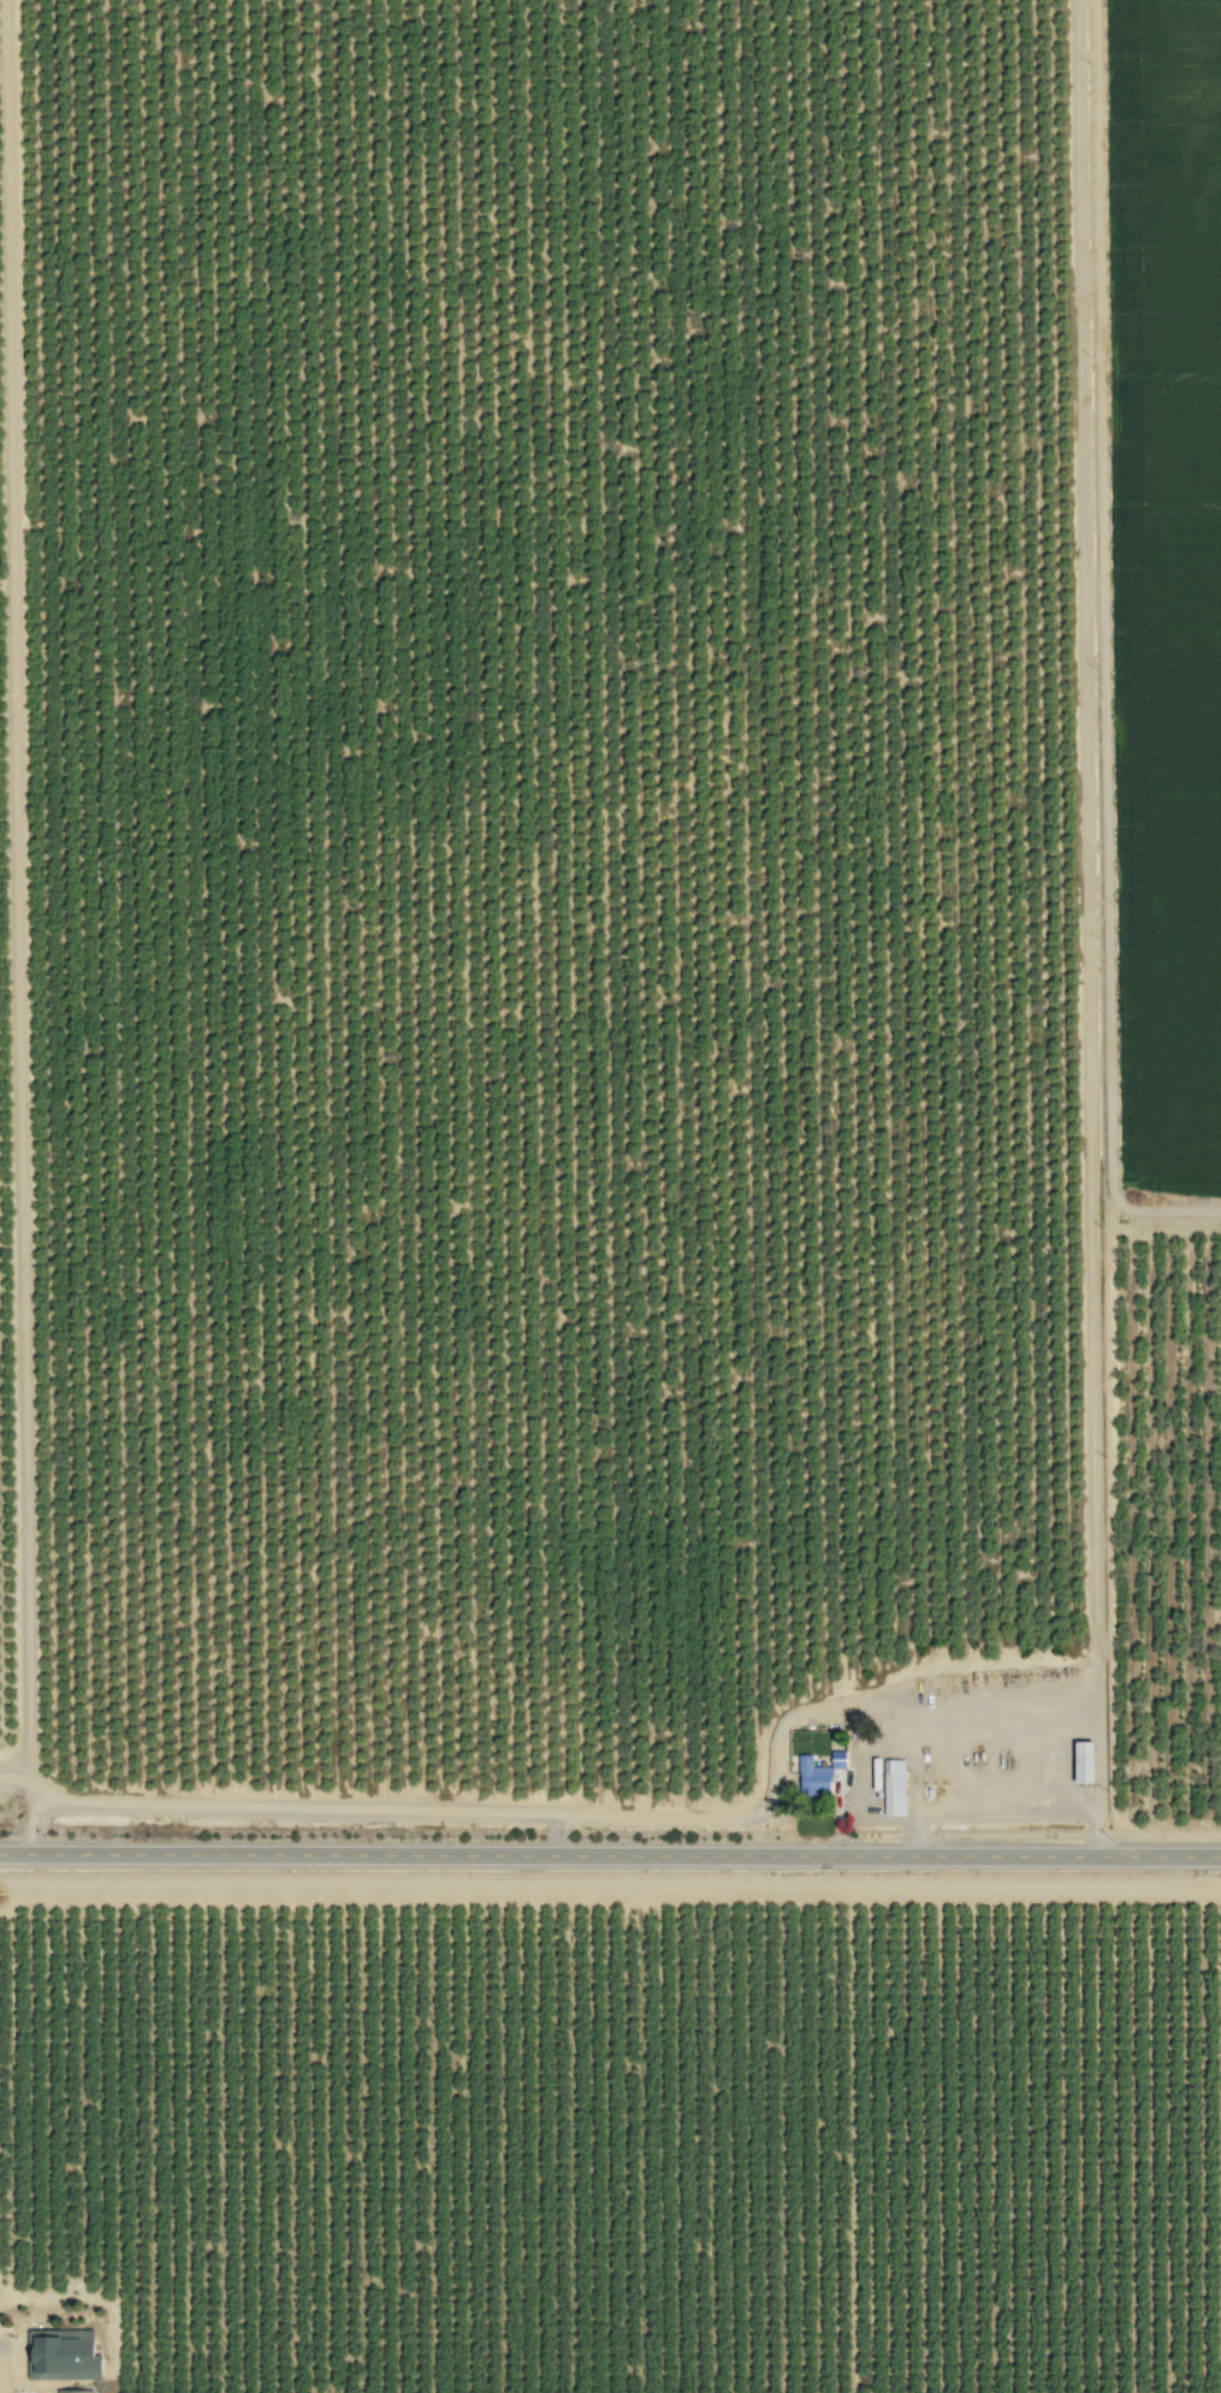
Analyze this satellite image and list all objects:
building: (1078, 1763)
building: (818, 1775)
building: (891, 1788)
road: (610, 1860)
building: (78, 2391)

